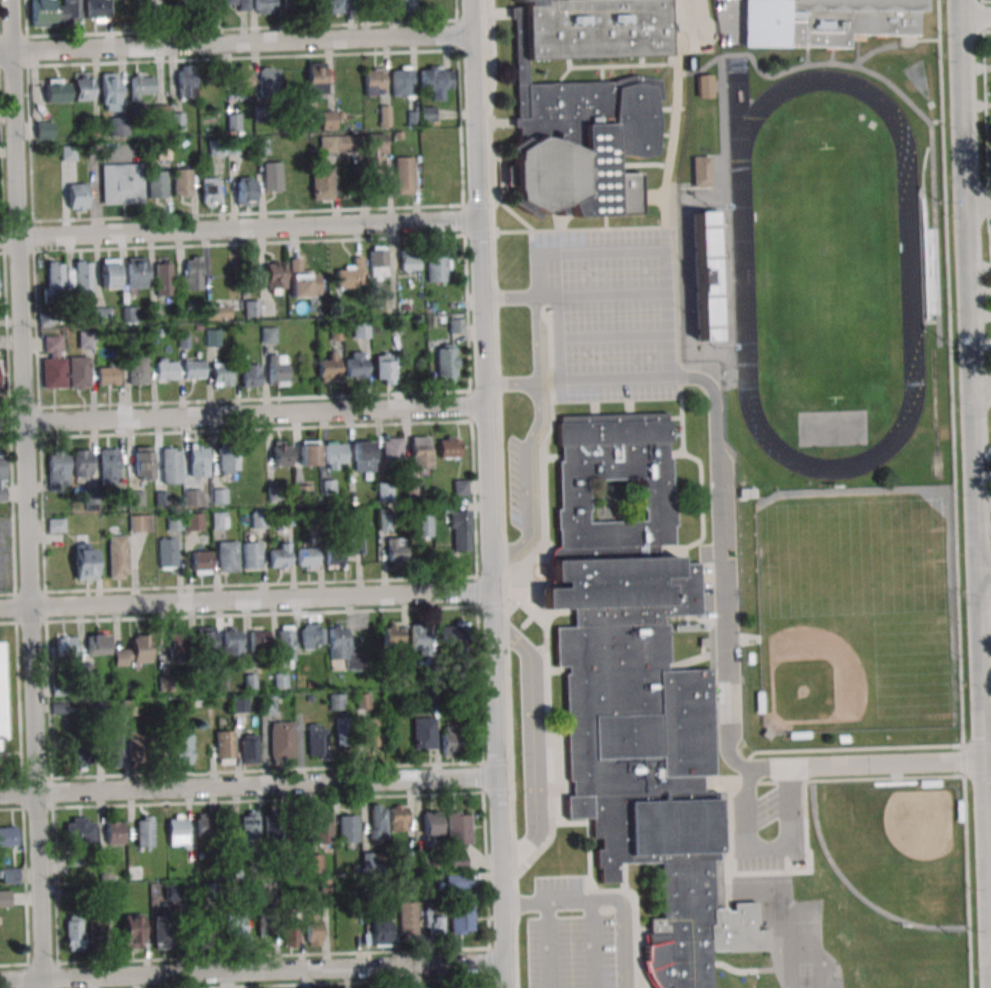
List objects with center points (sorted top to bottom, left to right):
building: (516, 0)
building: (183, 2)
building: (159, 4)
building: (207, 5)
building: (235, 5)
building: (264, 6)
building: (292, 6)
building: (336, 6)
building: (405, 6)
building: (68, 10)
building: (96, 10)
building: (42, 13)
road: (975, 17)
road: (691, 19)
road: (724, 20)
parking lot: (727, 21)
building: (826, 21)
road: (708, 25)
road: (235, 42)
road: (893, 45)
road: (857, 52)
road: (831, 56)
road: (806, 57)
road: (641, 61)
road: (619, 65)
road: (811, 65)
road: (564, 73)
road: (601, 73)
building: (316, 78)
building: (375, 78)
building: (268, 79)
building: (436, 79)
park: (918, 79)
building: (242, 80)
building: (402, 81)
building: (186, 82)
building: (705, 85)
building: (82, 86)
building: (142, 86)
building: (57, 90)
building: (109, 91)
building: (583, 106)
road: (667, 108)
building: (163, 112)
building: (427, 113)
building: (328, 120)
building: (233, 122)
building: (117, 125)
building: (94, 127)
building: (44, 130)
road: (666, 134)
building: (337, 144)
building: (375, 146)
building: (163, 152)
road: (639, 164)
road: (924, 164)
road: (622, 168)
building: (700, 171)
building: (403, 175)
building: (272, 176)
building: (181, 182)
building: (122, 183)
building: (156, 184)
building: (322, 184)
building: (209, 190)
building: (300, 190)
building: (246, 191)
building: (77, 196)
road: (683, 196)
road: (666, 199)
road: (979, 201)
road: (725, 206)
road: (512, 212)
road: (561, 223)
road: (605, 223)
road: (239, 227)
road: (935, 233)
road: (641, 251)
track: (909, 260)
building: (378, 263)
building: (410, 263)
building: (437, 267)
building: (928, 271)
building: (136, 272)
building: (191, 272)
building: (110, 273)
park: (827, 274)
building: (350, 275)
building: (708, 275)
building: (274, 276)
building: (82, 277)
building: (164, 277)
building: (54, 278)
building: (303, 282)
road: (601, 294)
road: (508, 297)
building: (251, 308)
building: (217, 312)
parking lot: (611, 312)
building: (102, 314)
building: (130, 314)
building: (456, 325)
building: (360, 330)
road: (614, 336)
building: (213, 337)
road: (558, 338)
building: (51, 343)
building: (446, 361)
building: (356, 365)
building: (329, 368)
building: (384, 368)
building: (166, 369)
building: (193, 369)
building: (138, 370)
building: (277, 370)
building: (65, 372)
building: (221, 373)
building: (251, 374)
building: (107, 376)
road: (950, 381)
road: (982, 388)
track: (934, 400)
road: (242, 414)
road: (674, 417)
road: (682, 422)
road: (551, 425)
road: (530, 438)
building: (449, 447)
building: (391, 451)
building: (281, 453)
building: (308, 453)
building: (420, 453)
building: (335, 455)
building: (363, 455)
road: (549, 458)
building: (197, 460)
building: (227, 461)
building: (83, 463)
building: (143, 463)
building: (170, 465)
building: (109, 466)
building: (59, 468)
road: (976, 471)
building: (2, 478)
parking lot: (515, 482)
building: (460, 487)
building: (412, 489)
building: (384, 491)
road: (26, 493)
road: (488, 493)
road: (501, 493)
building: (219, 495)
building: (192, 497)
road: (701, 512)
building: (258, 519)
building: (219, 520)
building: (385, 520)
building: (184, 522)
building: (140, 523)
building: (421, 526)
building: (459, 531)
building: (341, 551)
building: (396, 551)
building: (167, 553)
building: (251, 555)
building: (118, 556)
building: (227, 556)
building: (279, 556)
building: (307, 558)
road: (524, 560)
building: (85, 561)
building: (200, 562)
road: (719, 566)
road: (985, 573)
parking lot: (706, 580)
road: (245, 599)
park: (858, 608)
park: (858, 609)
building: (454, 634)
building: (311, 636)
building: (393, 638)
building: (420, 639)
building: (205, 641)
building: (258, 641)
building: (232, 642)
building: (97, 644)
building: (177, 645)
building: (285, 646)
building: (343, 648)
building: (66, 649)
building: (134, 653)
road: (696, 658)
building: (62, 689)
building: (638, 695)
building: (2, 697)
road: (547, 697)
building: (336, 701)
building: (363, 701)
building: (239, 704)
building: (267, 704)
building: (341, 727)
building: (423, 732)
building: (372, 733)
building: (281, 739)
building: (449, 740)
building: (316, 741)
building: (135, 743)
road: (534, 743)
building: (472, 745)
building: (180, 747)
building: (224, 747)
building: (248, 748)
road: (836, 748)
building: (112, 750)
building: (82, 752)
road: (869, 764)
road: (861, 779)
road: (248, 785)
parking lot: (767, 808)
building: (397, 818)
building: (377, 821)
building: (431, 823)
building: (204, 825)
building: (249, 826)
building: (322, 828)
building: (458, 828)
building: (273, 829)
building: (347, 829)
building: (79, 830)
building: (114, 833)
building: (143, 833)
building: (177, 833)
building: (8, 836)
park: (897, 847)
building: (407, 859)
road: (785, 859)
building: (311, 863)
parking lot: (759, 863)
road: (769, 871)
road: (589, 872)
road: (967, 875)
building: (9, 876)
road: (623, 878)
building: (458, 881)
road: (728, 889)
building: (4, 898)
road: (603, 900)
building: (461, 917)
building: (407, 918)
building: (432, 921)
building: (265, 925)
building: (344, 925)
road: (758, 926)
building: (73, 927)
building: (236, 927)
building: (313, 928)
building: (96, 931)
building: (132, 931)
building: (162, 931)
building: (380, 931)
building: (290, 935)
parking lot: (569, 939)
road: (592, 944)
road: (549, 945)
road: (251, 970)
road: (752, 971)

